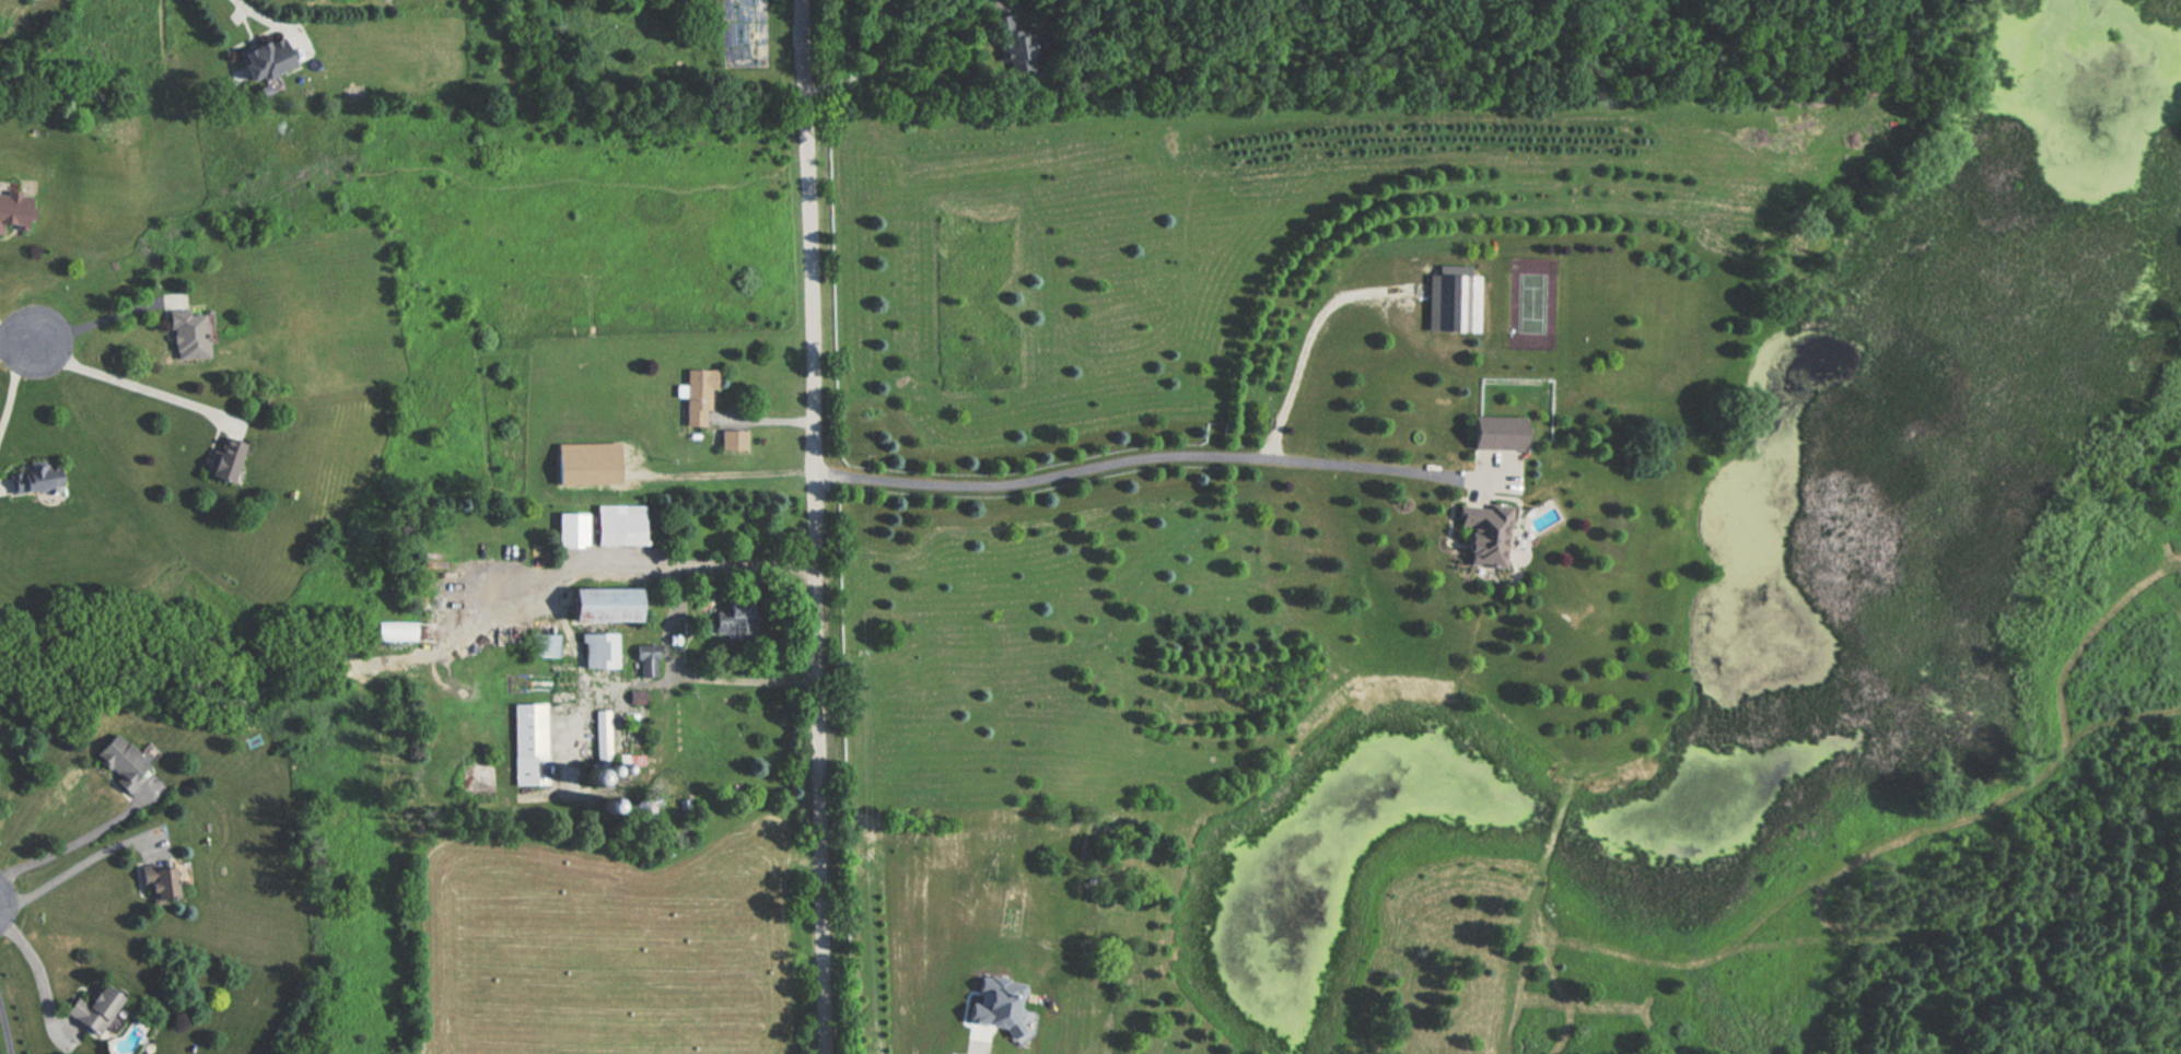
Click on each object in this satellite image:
road: (257, 14)
building: (1015, 50)
road: (894, 51)
building: (261, 59)
building: (12, 213)
park: (1533, 294)
road: (100, 321)
building: (186, 335)
road: (2, 338)
road: (1310, 338)
road: (21, 342)
road: (11, 385)
road: (137, 387)
building: (1501, 424)
building: (730, 440)
road: (1138, 450)
building: (222, 459)
building: (32, 478)
building: (616, 525)
road: (813, 526)
building: (1485, 531)
building: (599, 605)
building: (730, 621)
road: (668, 626)
building: (394, 630)
building: (541, 645)
building: (597, 651)
building: (645, 660)
building: (600, 736)
building: (528, 745)
building: (123, 760)
road: (75, 841)
road: (75, 867)
building: (156, 883)
road: (37, 969)
building: (91, 1009)
road: (5, 1031)
road: (983, 1052)

